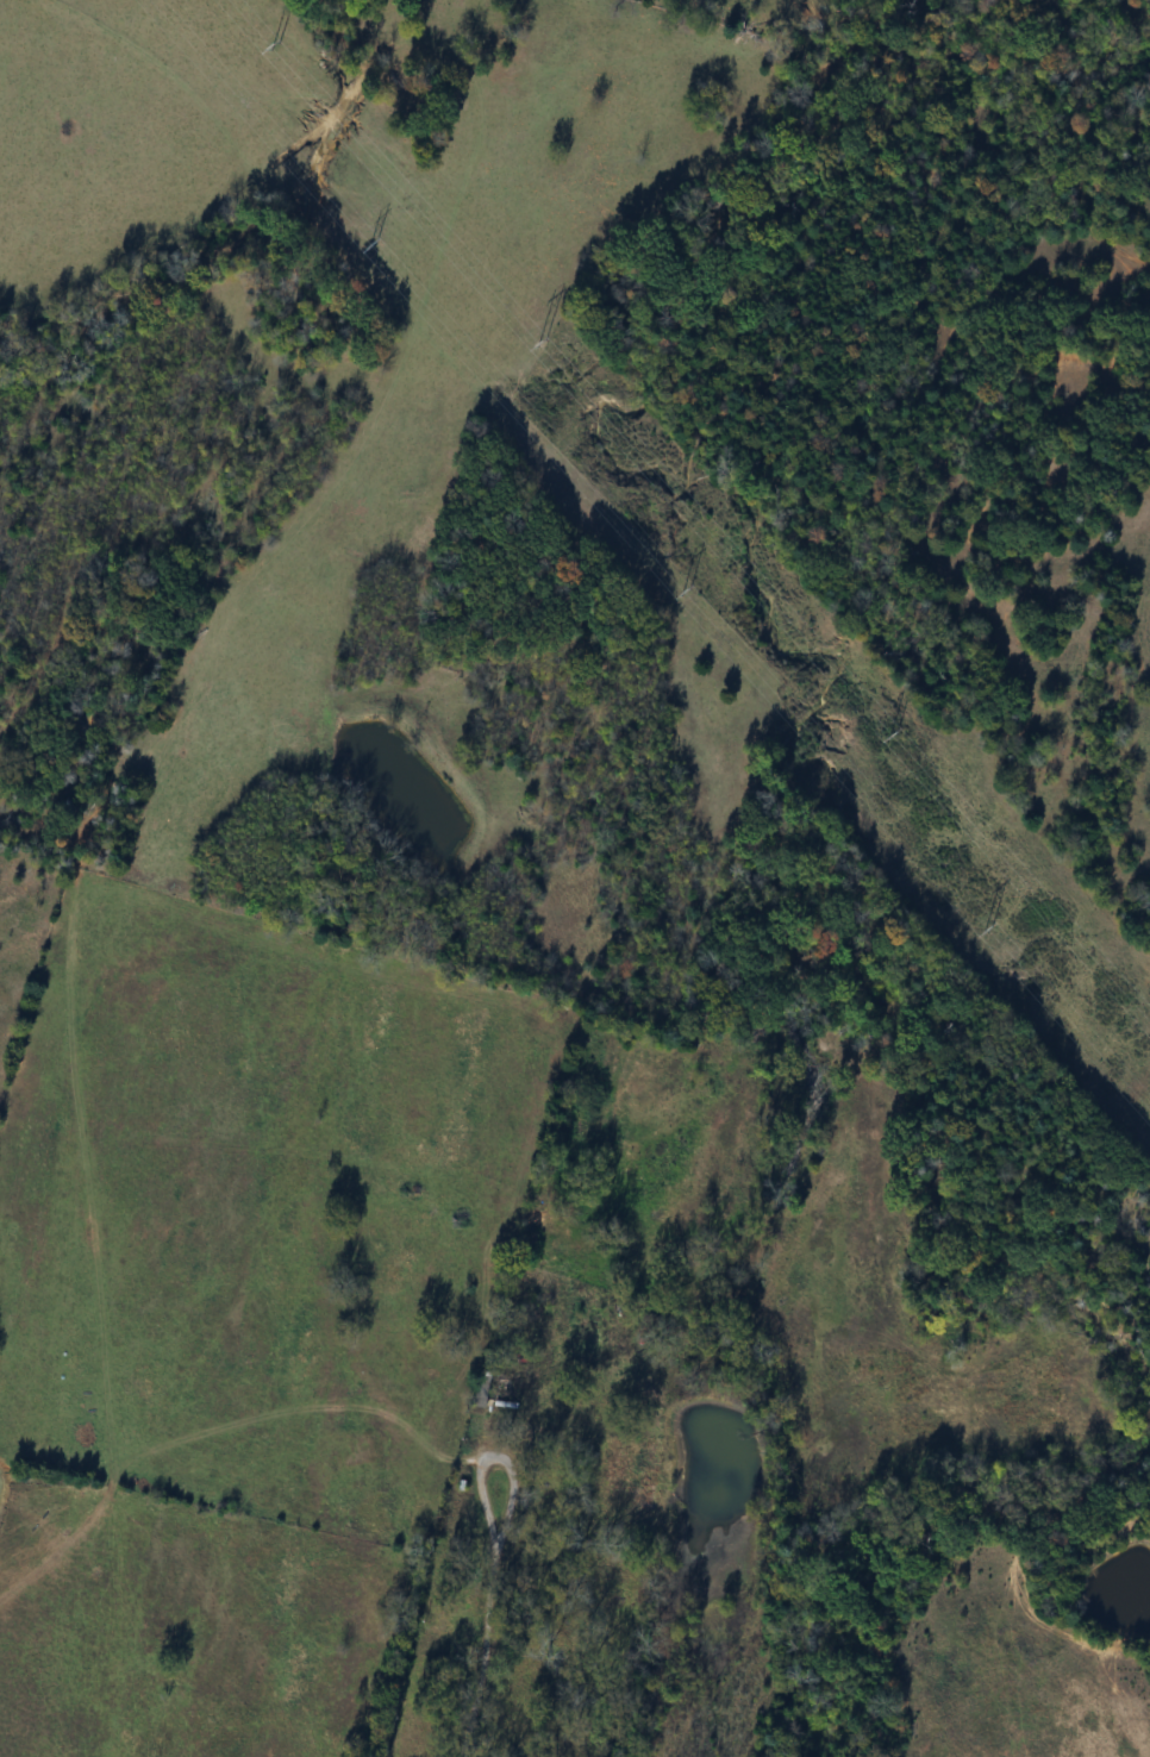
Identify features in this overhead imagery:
power tower: (277, 50)
power tower: (370, 245)
power tower: (542, 345)
power tower: (682, 590)
power tower: (887, 734)
power tower: (986, 933)
building: (505, 1389)
road: (492, 1451)
road: (483, 1645)

